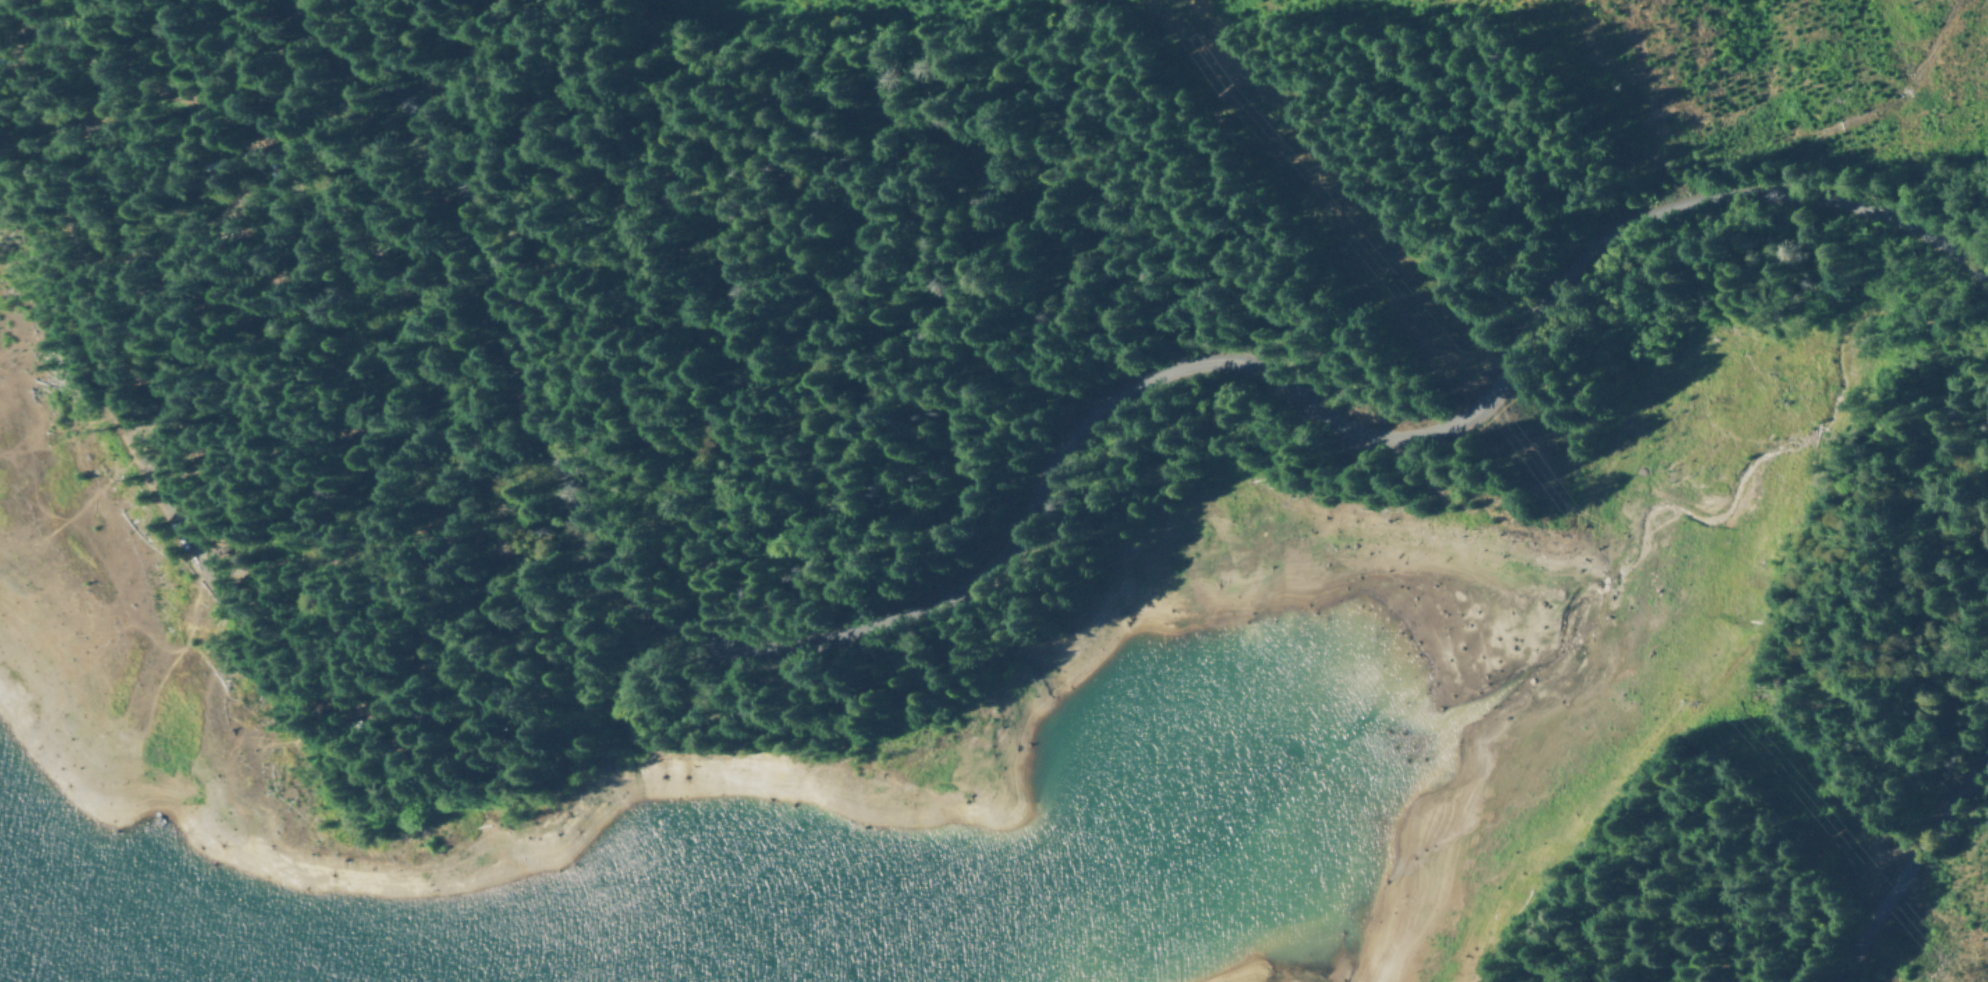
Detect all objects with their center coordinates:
road: (143, 314)
road: (478, 420)
road: (1031, 502)
road: (1909, 861)

